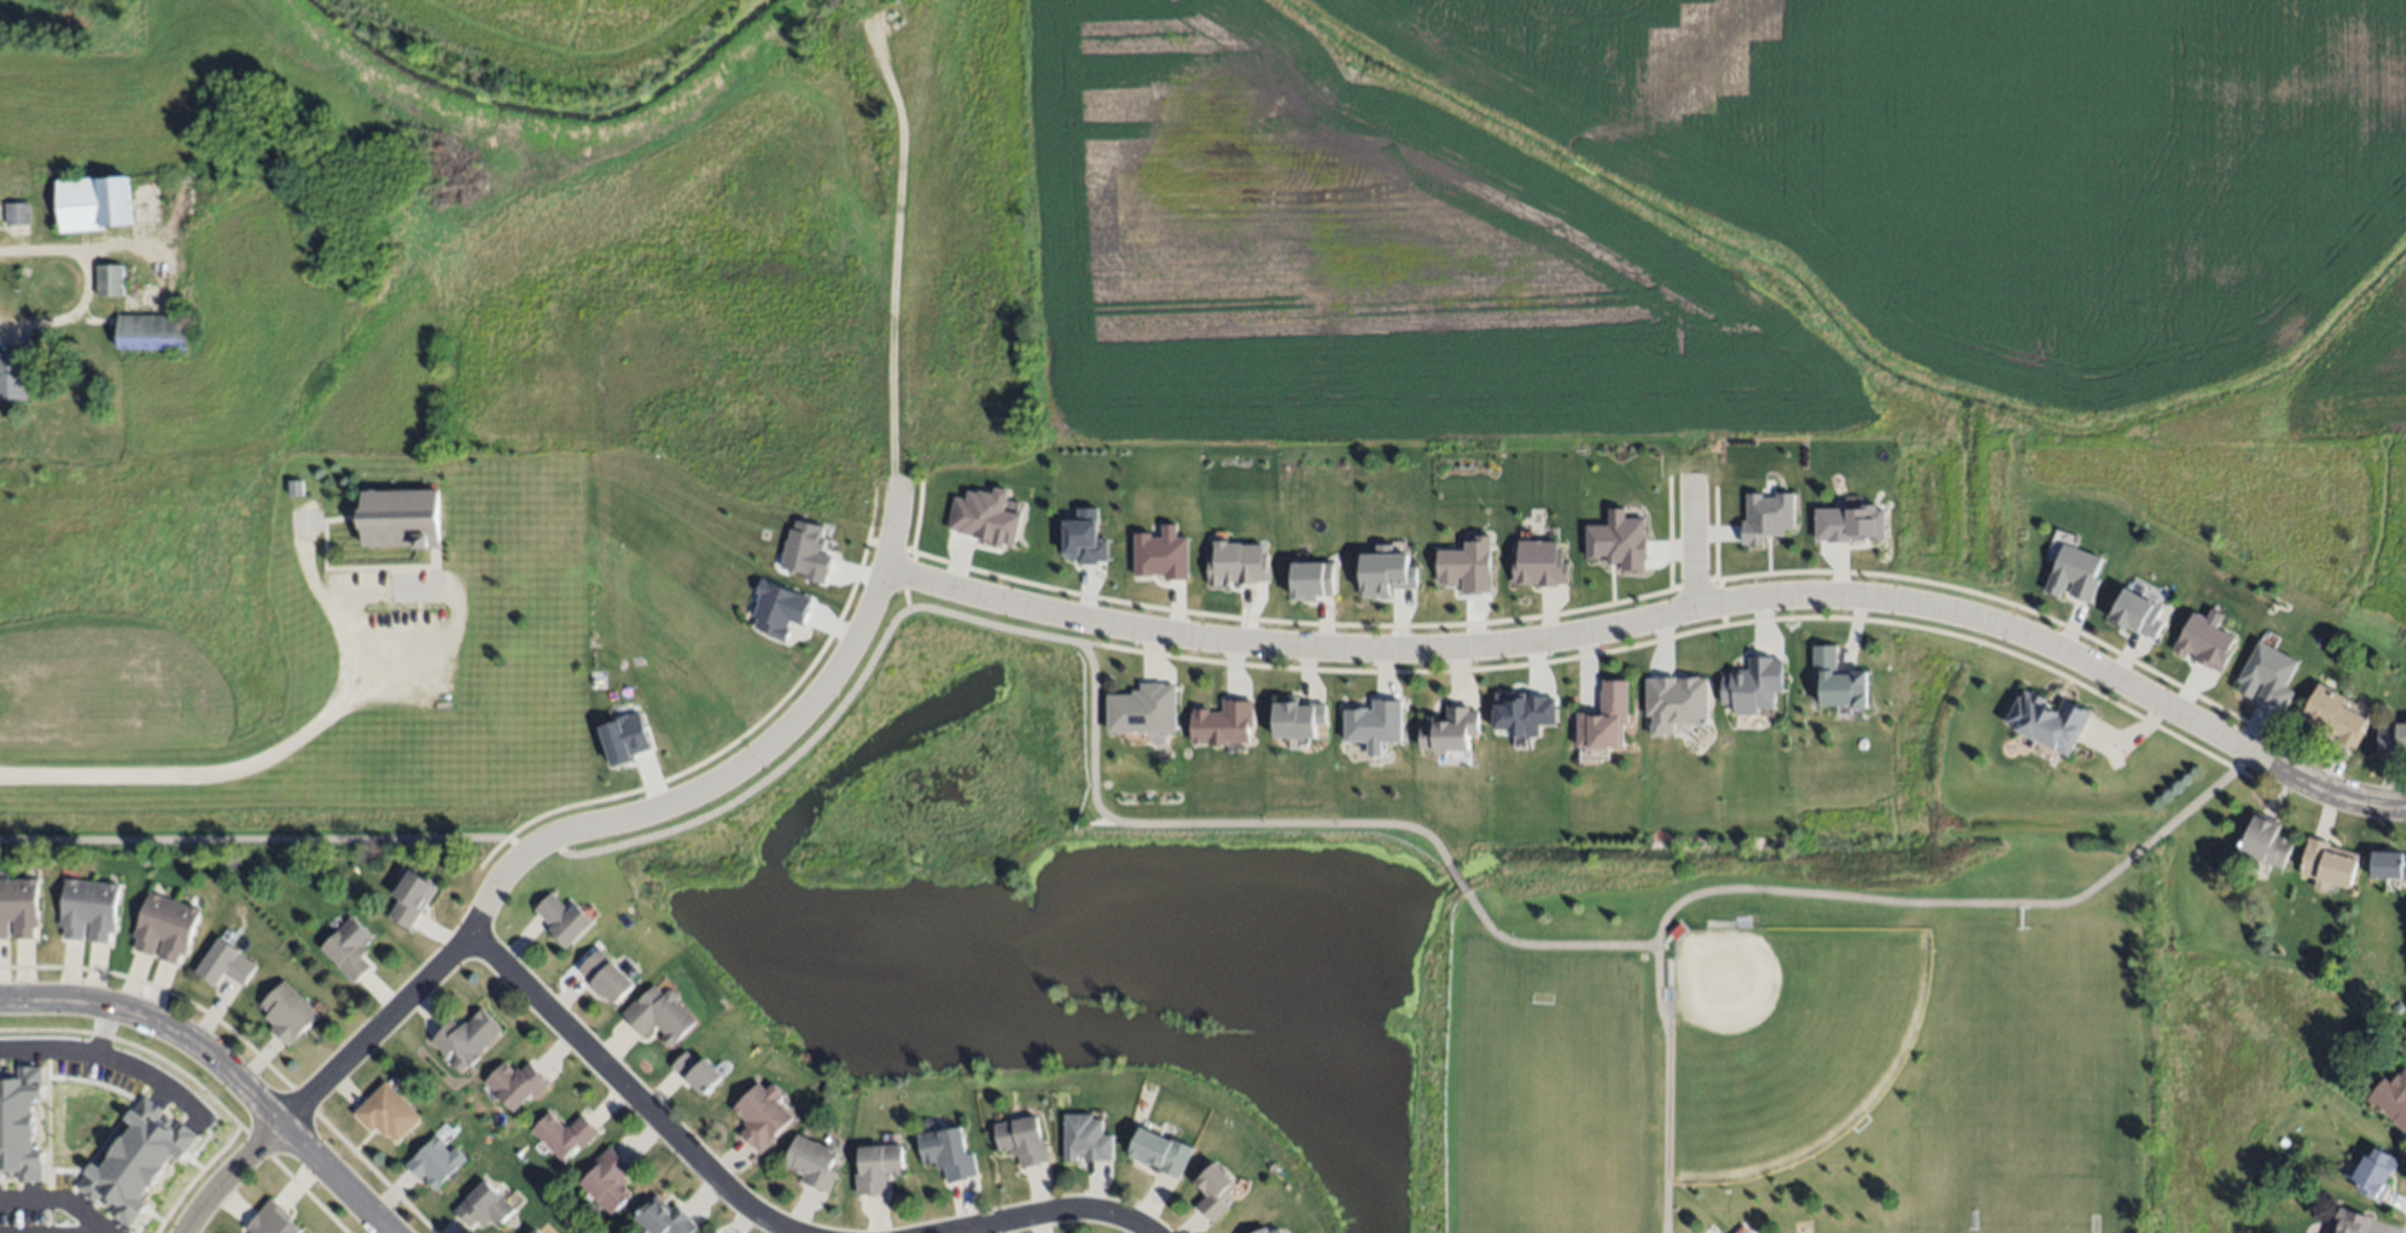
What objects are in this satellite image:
building: (93, 204)
building: (18, 214)
road: (890, 258)
road: (86, 280)
building: (110, 280)
building: (152, 332)
building: (13, 375)
building: (296, 487)
building: (402, 518)
building: (984, 518)
building: (1767, 518)
building: (1849, 525)
building: (1085, 539)
building: (1619, 542)
road: (1688, 543)
building: (808, 553)
building: (1163, 555)
building: (1237, 565)
building: (1539, 565)
building: (1468, 567)
building: (1386, 573)
building: (2074, 575)
building: (1313, 582)
building: (780, 610)
road: (1665, 613)
building: (2137, 615)
building: (2204, 642)
building: (2268, 678)
building: (1839, 682)
building: (1754, 686)
building: (1677, 703)
building: (1143, 711)
building: (1525, 714)
building: (2334, 719)
building: (1297, 720)
building: (1607, 724)
building: (2056, 724)
building: (1224, 725)
building: (1375, 725)
road: (822, 729)
building: (1451, 732)
building: (625, 740)
building: (2392, 740)
road: (204, 776)
road: (625, 817)
building: (2261, 845)
building: (2326, 865)
building: (2388, 870)
road: (1456, 877)
building: (412, 896)
road: (1858, 898)
building: (19, 906)
building: (89, 910)
building: (563, 917)
building: (167, 927)
building: (1679, 929)
building: (350, 947)
building: (226, 962)
building: (607, 980)
building: (2396, 1006)
building: (290, 1011)
building: (658, 1011)
park: (1664, 1030)
road: (98, 1032)
building: (467, 1036)
road: (106, 1059)
park: (1819, 1060)
road: (225, 1065)
building: (697, 1070)
building: (514, 1082)
road: (1666, 1089)
road: (635, 1091)
building: (2392, 1098)
building: (388, 1111)
building: (762, 1115)
building: (21, 1124)
building: (564, 1133)
building: (1085, 1138)
building: (1023, 1139)
building: (1163, 1155)
building: (951, 1157)
building: (436, 1159)
building: (811, 1159)
building: (139, 1163)
building: (880, 1170)
building: (2375, 1174)
road: (239, 1176)
building: (608, 1178)
building: (2270, 1180)
building: (1217, 1197)
road: (53, 1200)
building: (484, 1202)
road: (1044, 1211)
building: (665, 1216)
building: (281, 1220)
building: (2350, 1222)
building: (262, 1226)
building: (536, 1231)
building: (1742, 1231)
building: (1746, 1231)
road: (91, 1232)
road: (95, 1232)
building: (523, 1232)
building: (1266, 1232)

